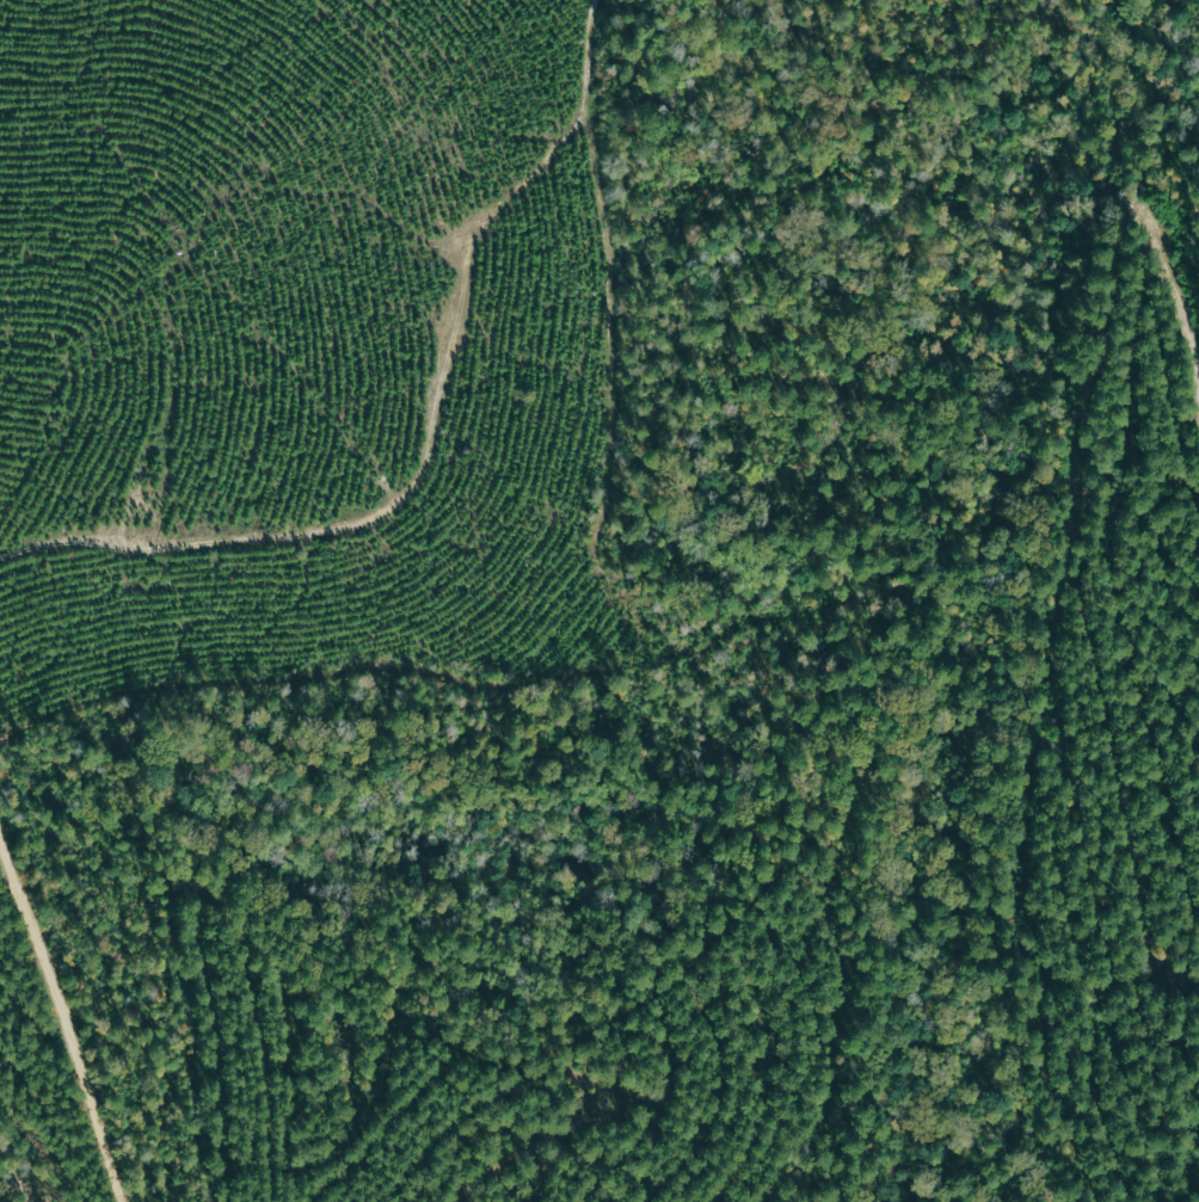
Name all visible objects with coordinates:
road: (64, 1017)

